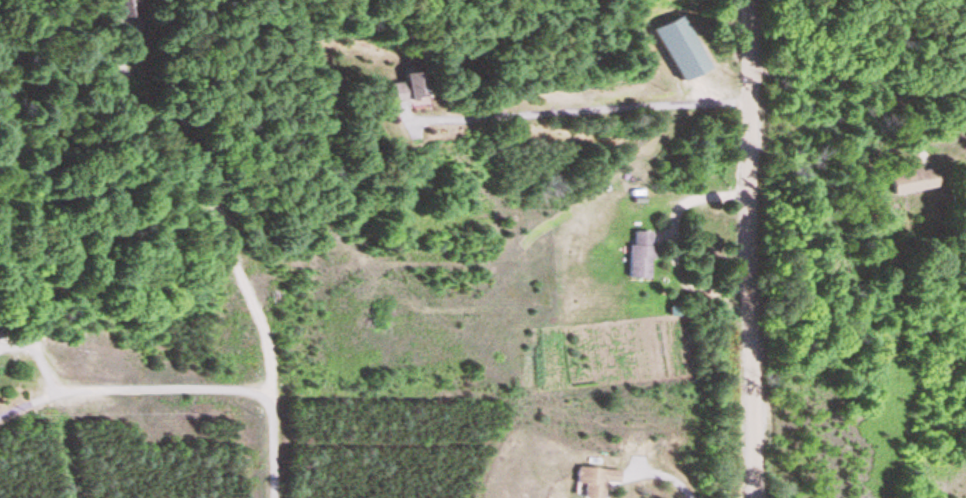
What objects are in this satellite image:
building: (394, 94)
road: (752, 249)
building: (636, 263)
road: (211, 391)
building: (593, 482)

